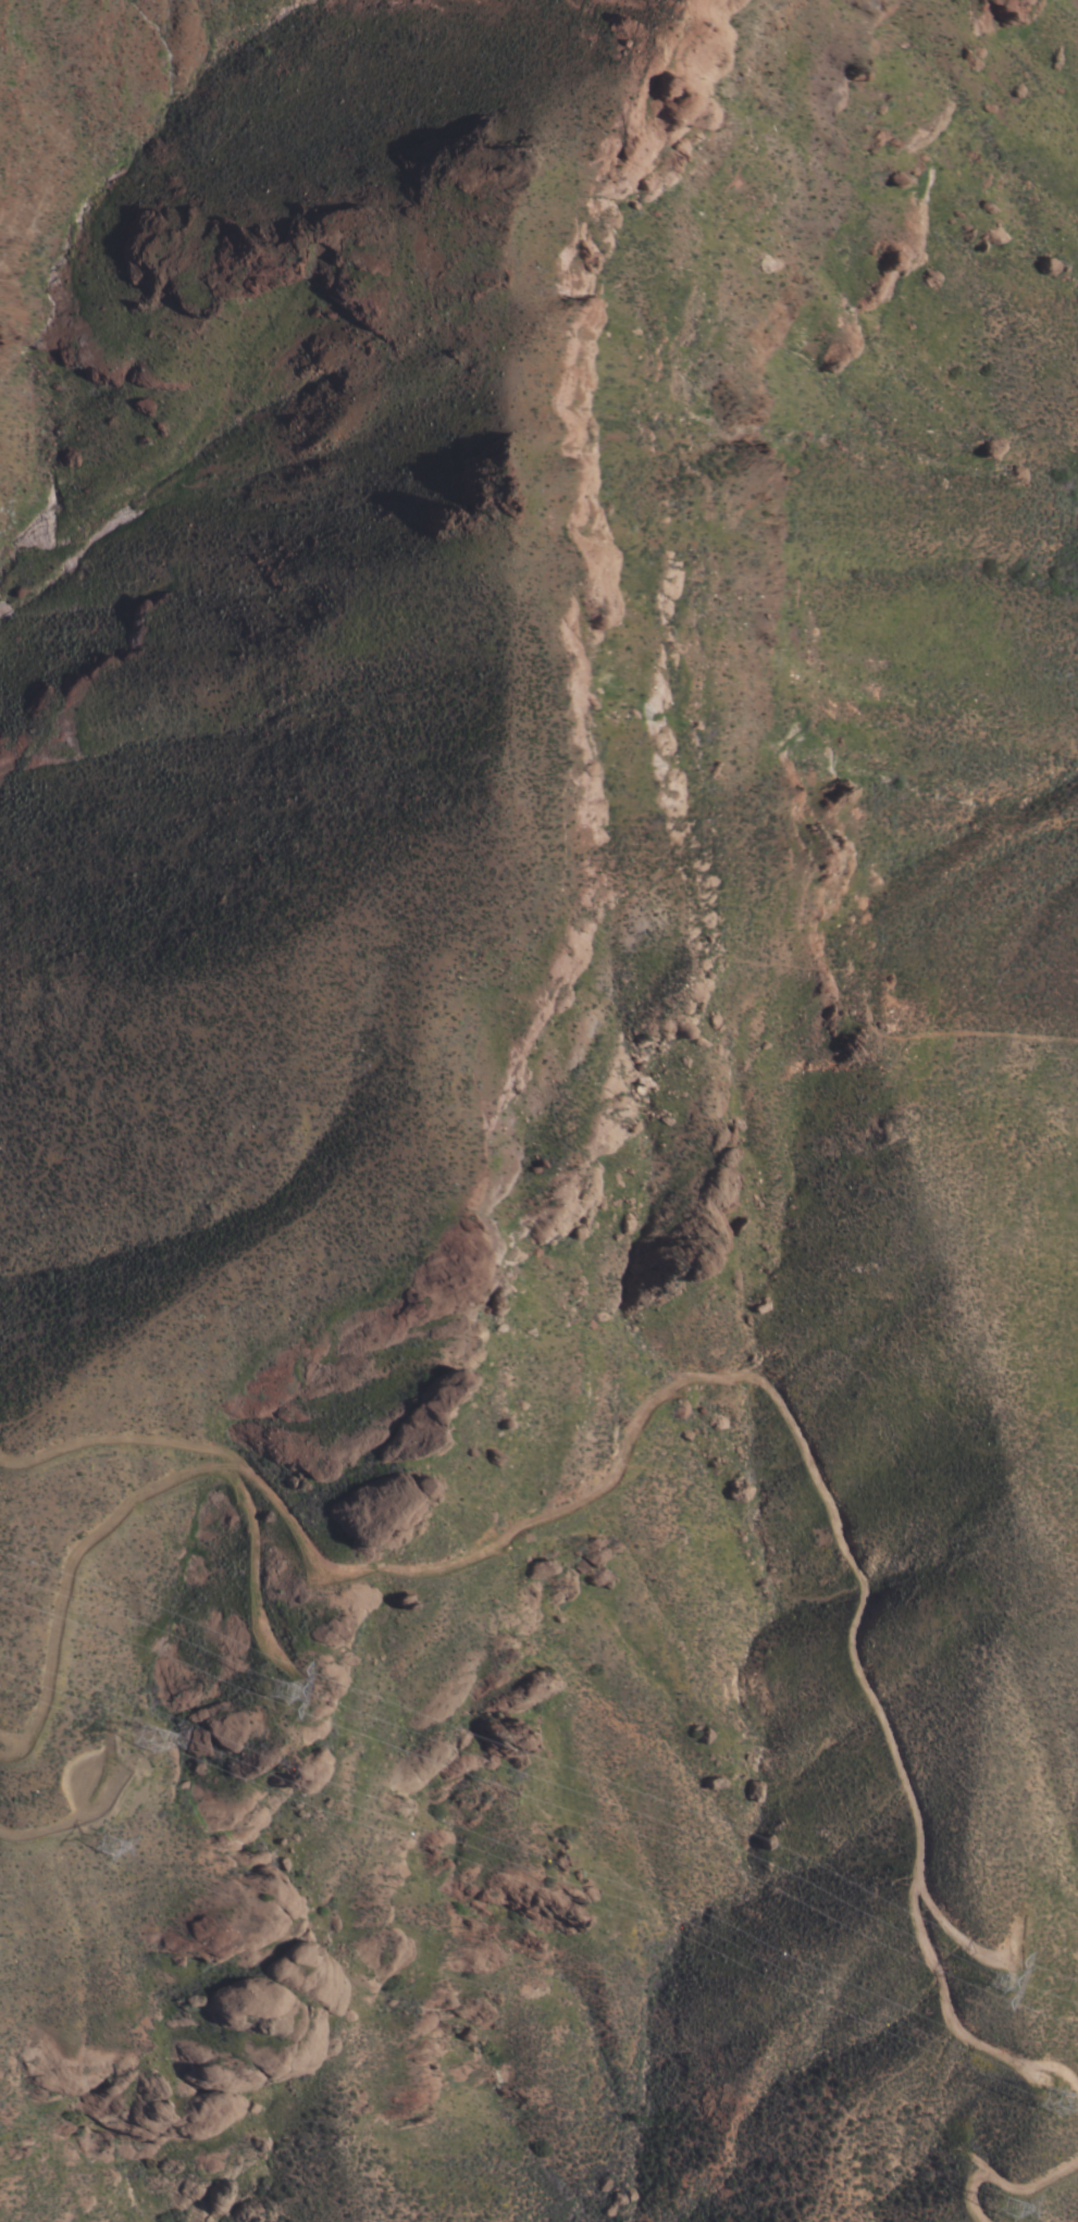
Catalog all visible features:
power tower: (275, 1693)
power tower: (148, 1742)
power tower: (109, 1847)
power tower: (988, 1974)
power tower: (1050, 2099)
power tower: (1006, 2209)

